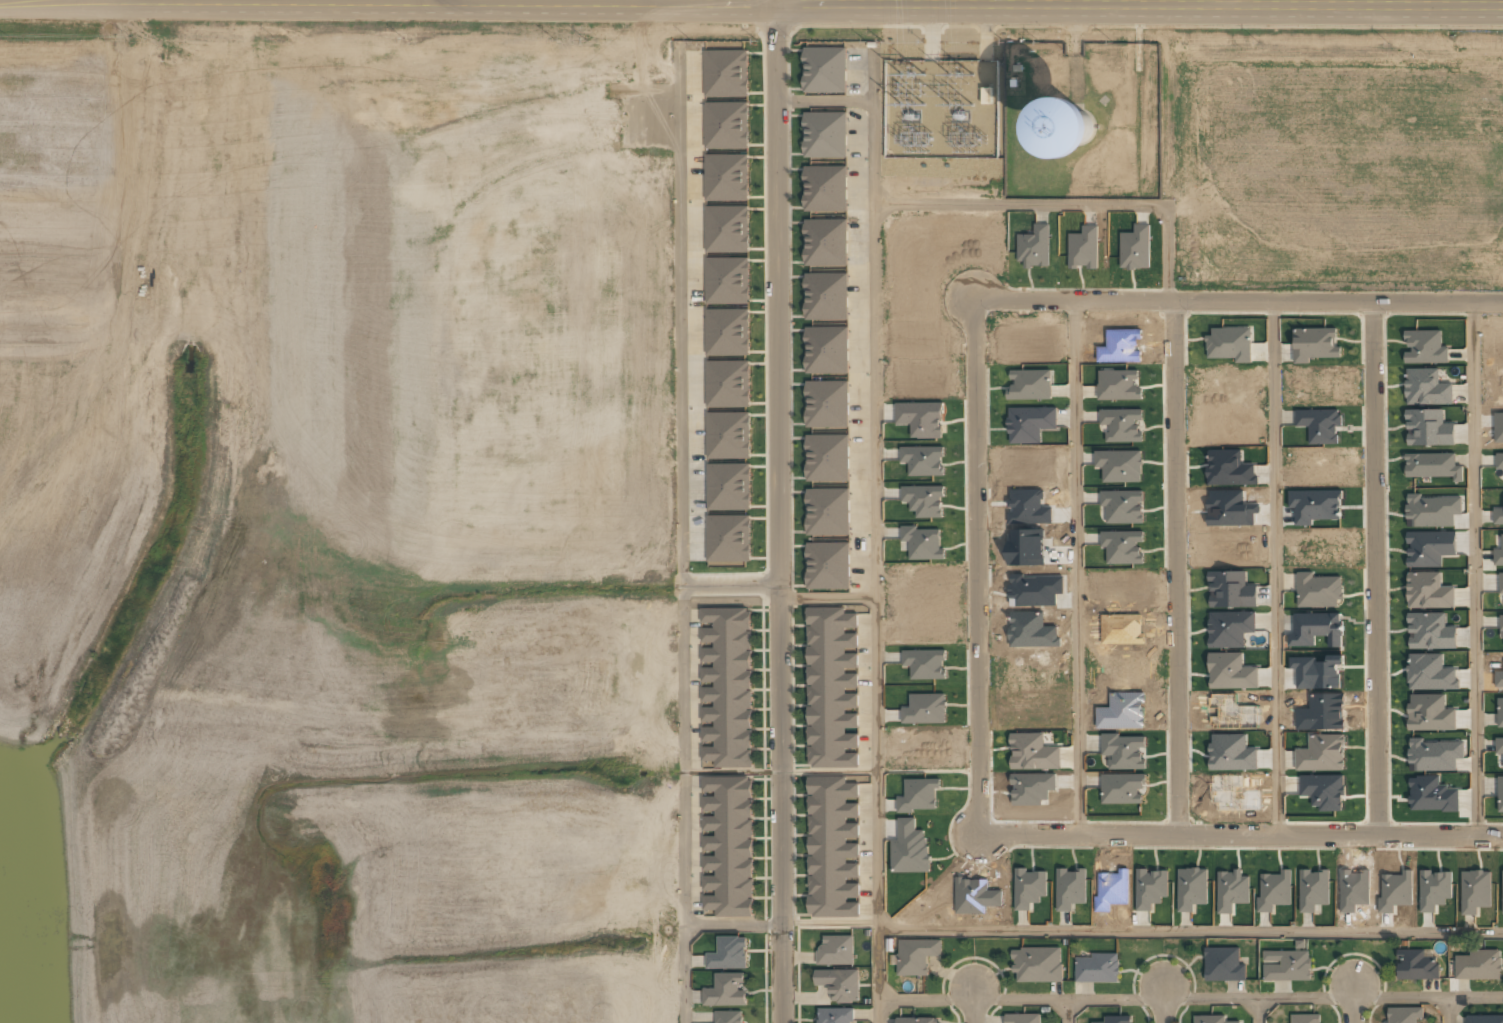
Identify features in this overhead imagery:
road: (751, 14)
building: (824, 70)
building: (726, 73)
road: (824, 97)
power substation: (941, 108)
building: (726, 125)
water tower: (1081, 125)
building: (1076, 126)
building: (825, 134)
building: (727, 177)
building: (825, 188)
road: (1065, 202)
building: (727, 228)
building: (826, 246)
building: (727, 280)
building: (825, 297)
road: (1238, 298)
building: (728, 331)
building: (826, 351)
road: (680, 358)
building: (728, 383)
building: (1427, 387)
building: (826, 405)
building: (1428, 427)
building: (728, 435)
building: (826, 459)
building: (729, 486)
road: (778, 511)
building: (826, 512)
road: (875, 535)
building: (729, 538)
building: (1430, 548)
road: (976, 565)
road: (1077, 566)
road: (1176, 566)
building: (826, 567)
road: (1276, 567)
road: (1375, 567)
road: (1474, 568)
building: (1231, 590)
building: (1428, 591)
building: (1230, 628)
building: (1316, 630)
building: (1431, 631)
building: (1430, 672)
building: (725, 687)
building: (832, 688)
building: (1430, 713)
road: (684, 717)
building: (1033, 752)
building: (1232, 752)
building: (1434, 754)
road: (1240, 835)
building: (727, 847)
building: (833, 848)
road: (830, 918)
road: (733, 926)
road: (1190, 929)
building: (835, 951)
building: (728, 953)
building: (916, 956)
building: (1223, 964)
building: (1037, 965)
building: (1288, 965)
building: (1479, 965)
building: (1416, 966)
building: (1096, 967)
building: (838, 985)
building: (726, 990)
road: (1190, 998)
road: (1354, 1002)
road: (1164, 1004)
road: (975, 1006)
road: (1258, 1010)
road: (1449, 1010)
road: (1068, 1011)
building: (1403, 1015)
building: (729, 1016)
building: (835, 1016)
building: (1023, 1019)
building: (1115, 1019)
building: (1211, 1019)
building: (1305, 1019)
building: (1484, 1019)
building: (917, 1020)

